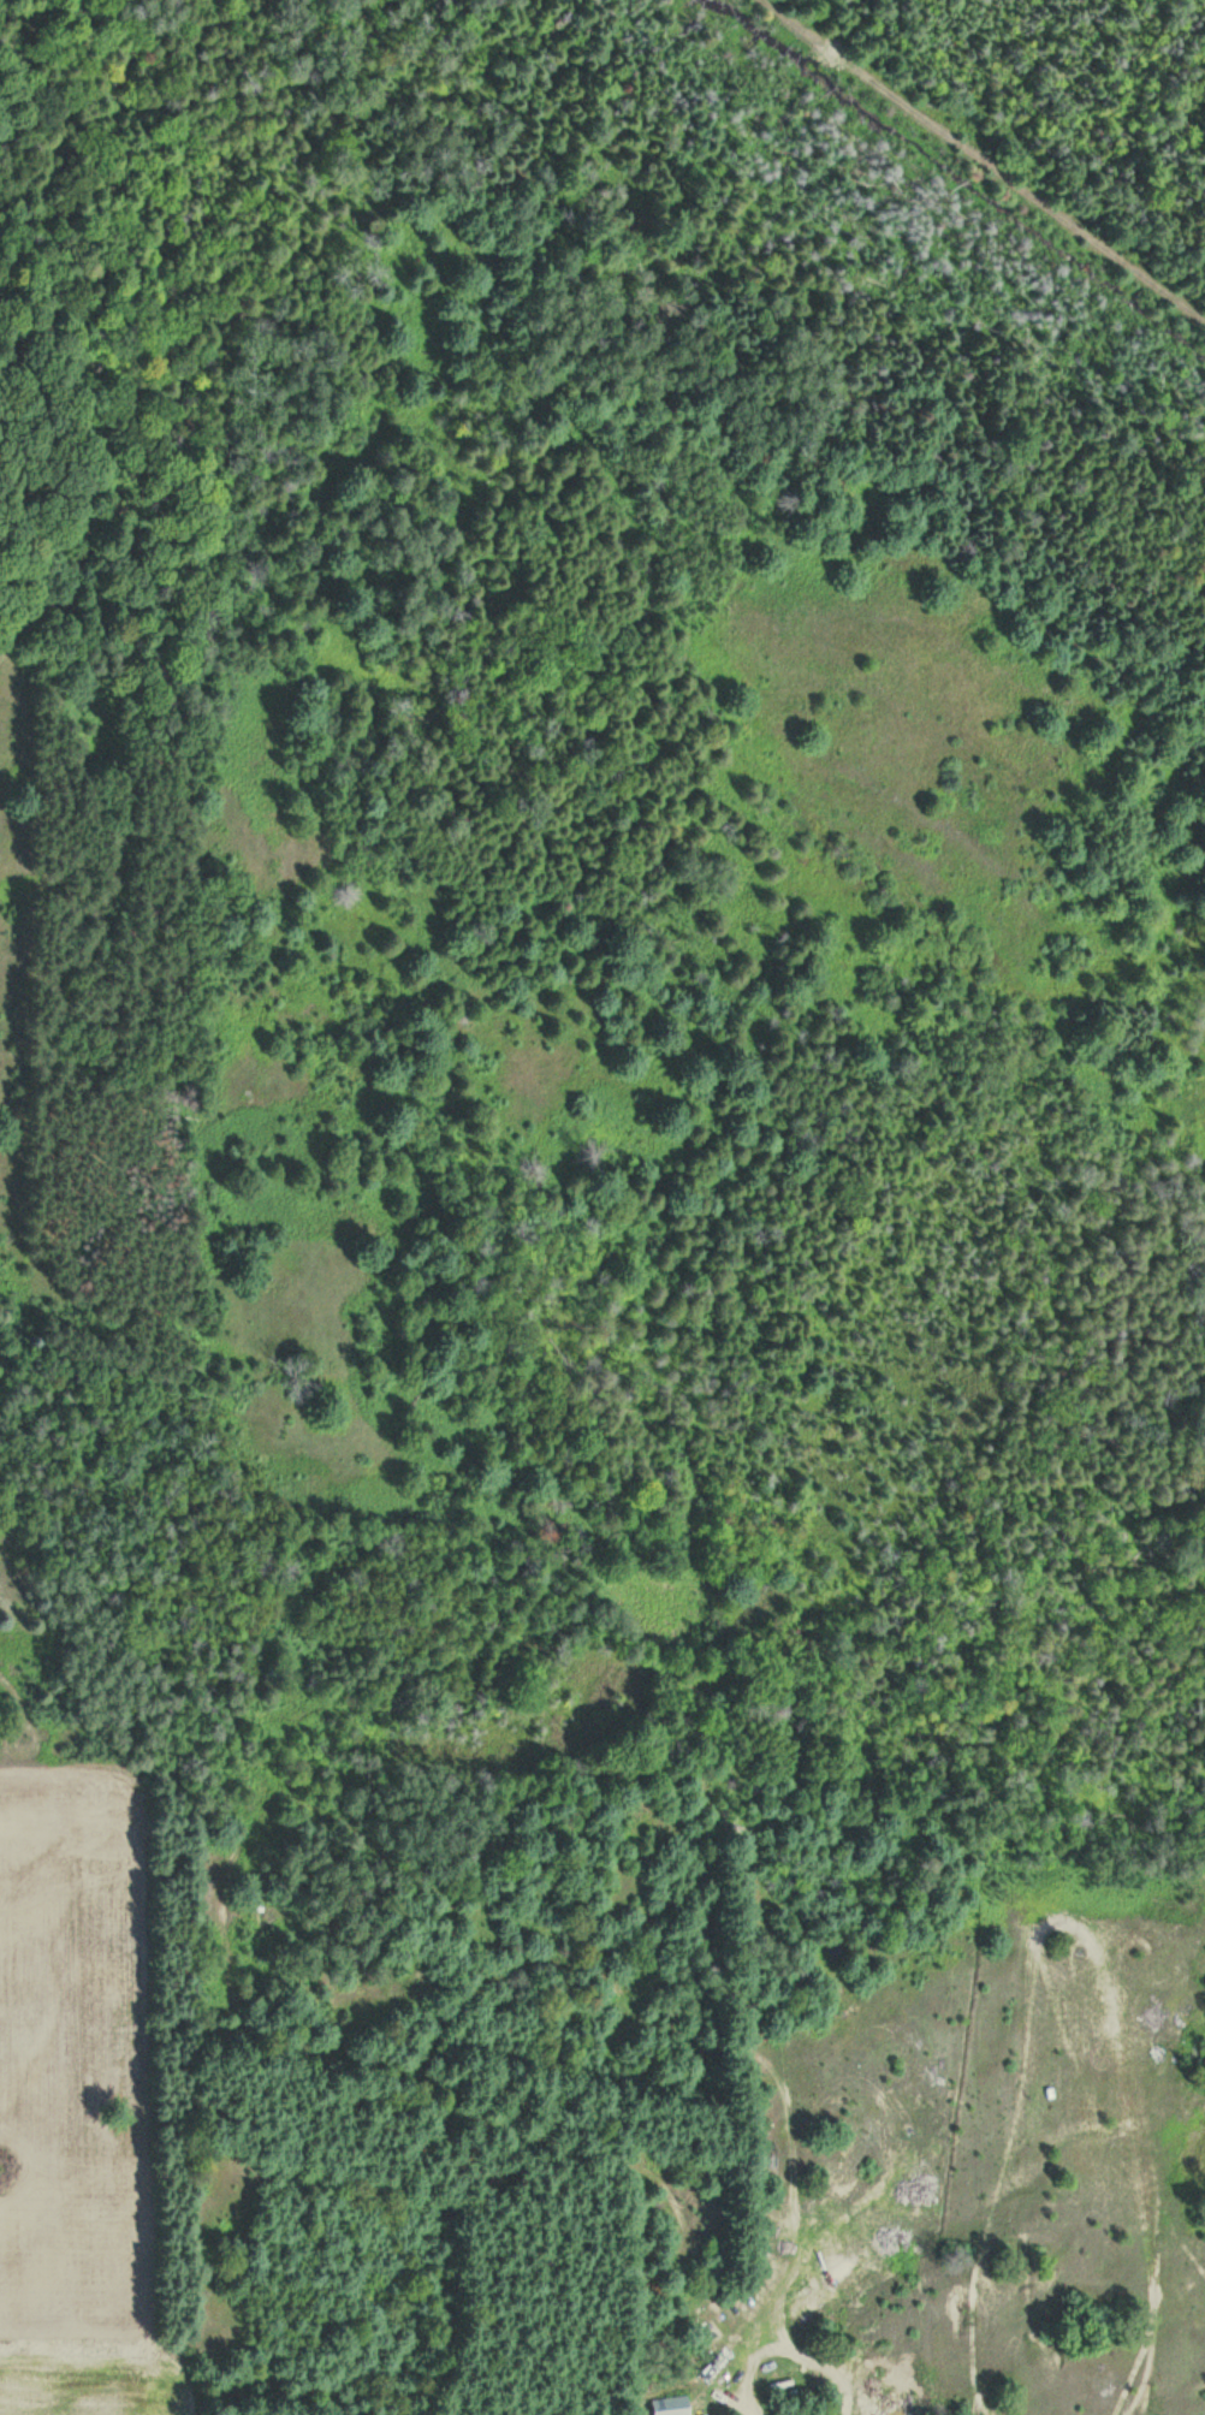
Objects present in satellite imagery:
building: (672, 2407)

